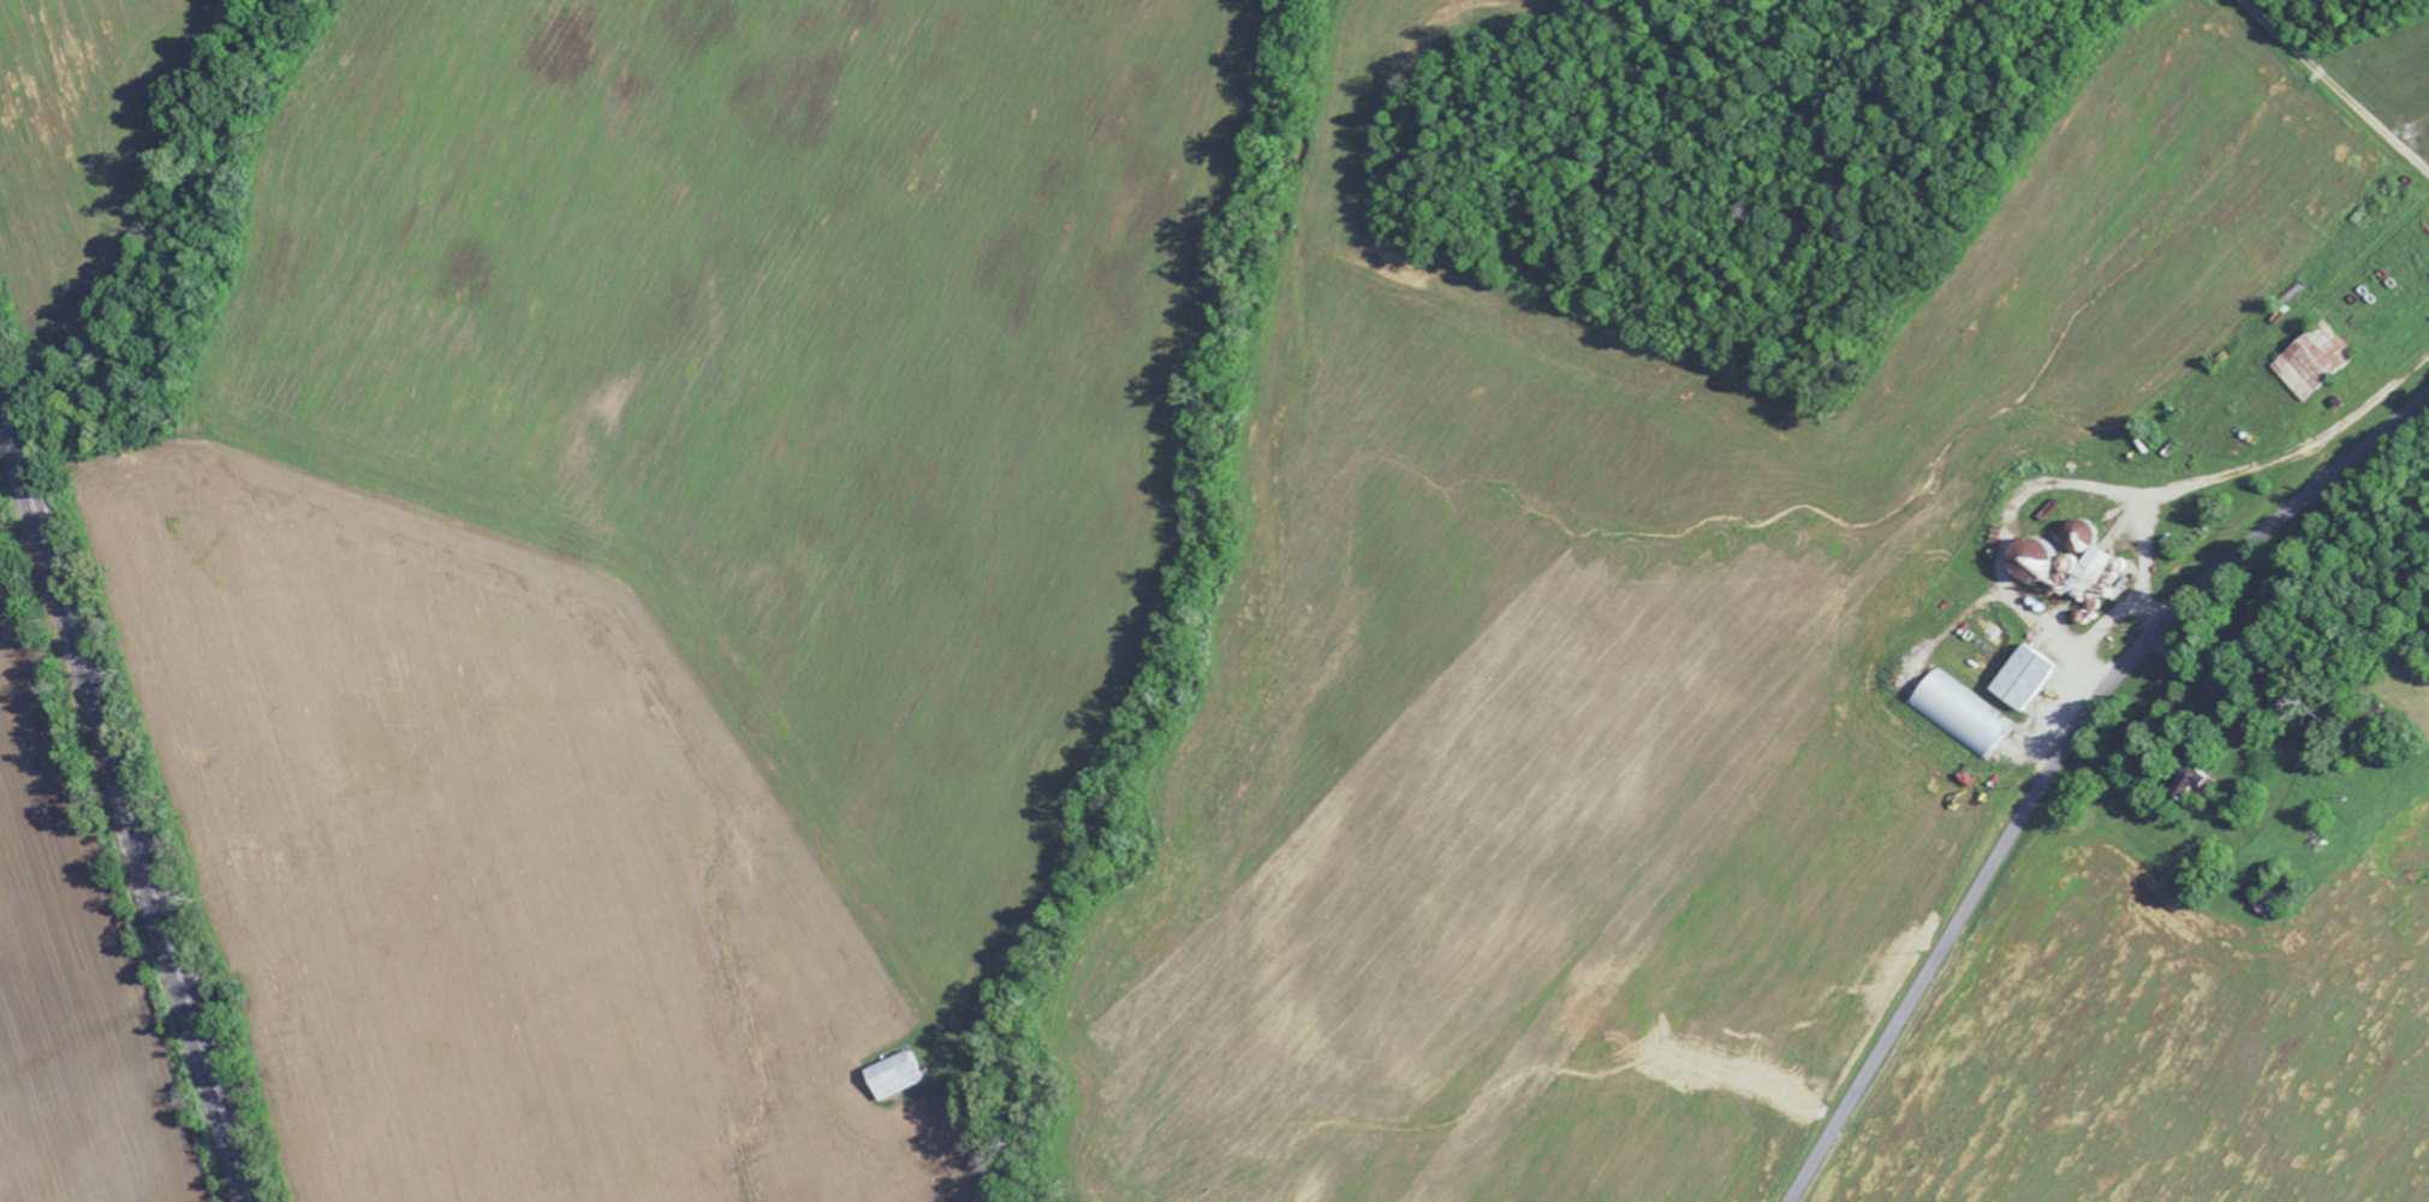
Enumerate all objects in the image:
road: (2338, 82)
road: (2415, 129)
building: (2079, 535)
building: (2080, 571)
road: (2104, 621)
building: (2017, 676)
road: (2055, 752)
railway: (129, 790)
railway: (121, 813)
building: (903, 1073)

